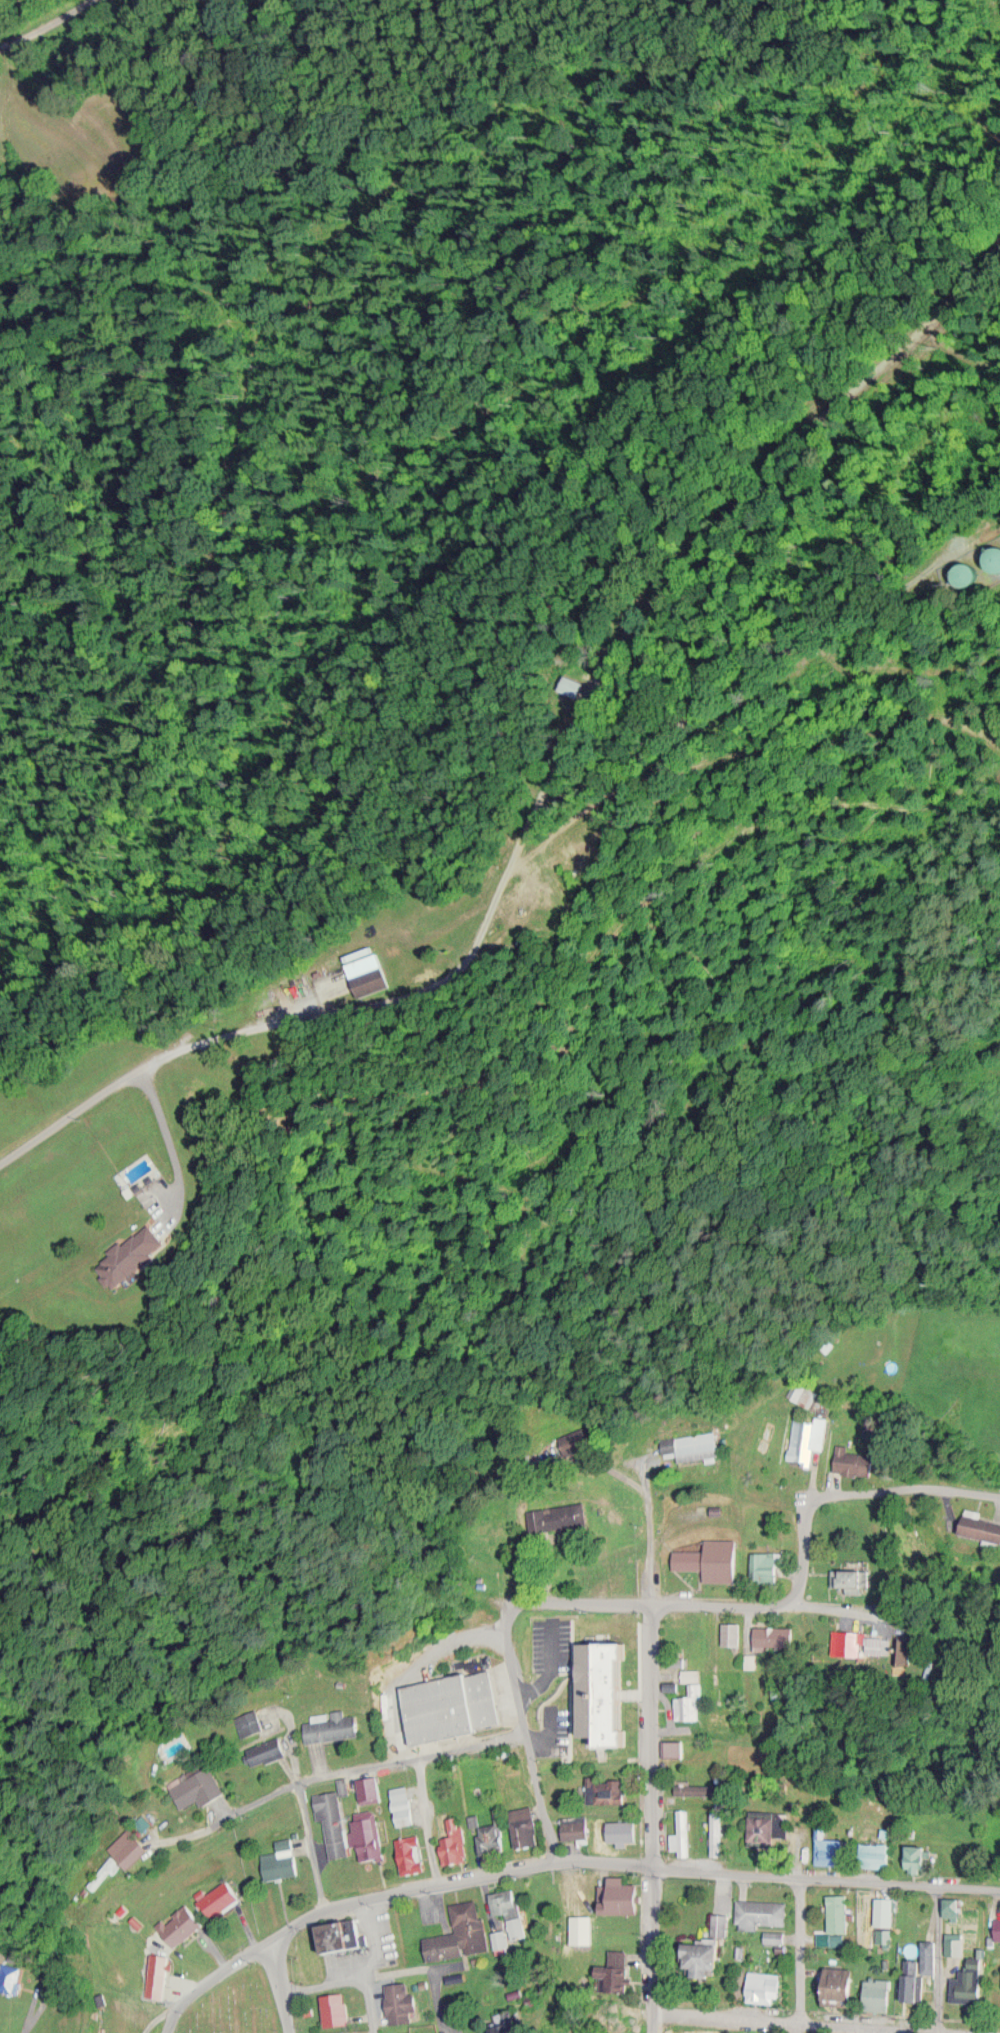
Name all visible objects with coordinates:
road: (44, 23)
road: (715, 518)
building: (989, 558)
building: (566, 685)
road: (278, 1021)
building: (136, 1253)
building: (804, 1391)
building: (809, 1435)
building: (579, 1438)
building: (700, 1446)
building: (856, 1460)
road: (853, 1491)
building: (560, 1516)
building: (984, 1525)
road: (650, 1528)
building: (498, 1547)
building: (712, 1557)
building: (766, 1565)
building: (853, 1579)
road: (584, 1600)
road: (761, 1603)
building: (733, 1632)
building: (775, 1634)
building: (867, 1642)
building: (547, 1647)
building: (778, 1688)
building: (622, 1692)
building: (692, 1695)
building: (451, 1704)
building: (725, 1715)
building: (251, 1722)
building: (335, 1725)
road: (527, 1729)
road: (652, 1733)
building: (677, 1747)
building: (269, 1750)
road: (412, 1752)
road: (715, 1771)
building: (371, 1788)
building: (609, 1788)
building: (701, 1788)
building: (201, 1795)
road: (245, 1807)
building: (407, 1810)
building: (335, 1820)
building: (527, 1825)
building: (577, 1826)
building: (617, 1826)
building: (771, 1826)
building: (683, 1831)
building: (717, 1831)
building: (370, 1836)
building: (493, 1836)
road: (311, 1841)
building: (457, 1841)
building: (128, 1849)
building: (832, 1849)
building: (879, 1854)
building: (920, 1857)
building: (282, 1862)
road: (826, 1876)
road: (383, 1889)
building: (620, 1890)
building: (221, 1897)
building: (955, 1905)
building: (512, 1909)
building: (887, 1910)
building: (762, 1912)
building: (837, 1919)
building: (182, 1924)
building: (721, 1924)
building: (999, 1927)
building: (583, 1928)
building: (462, 1932)
building: (347, 1935)
building: (777, 1936)
building: (886, 1936)
building: (502, 1938)
building: (956, 1945)
road: (653, 1949)
road: (799, 1953)
road: (938, 1956)
building: (709, 1957)
building: (160, 1963)
road: (432, 1966)
building: (619, 1967)
building: (921, 1969)
building: (14, 1978)
road: (323, 1980)
building: (971, 1981)
building: (843, 1984)
road: (279, 1986)
building: (765, 1986)
building: (880, 1993)
building: (403, 2001)
road: (373, 2003)
park: (233, 2004)
building: (338, 2008)
road: (31, 2012)
road: (156, 2019)
road: (826, 2021)
building: (411, 2032)

